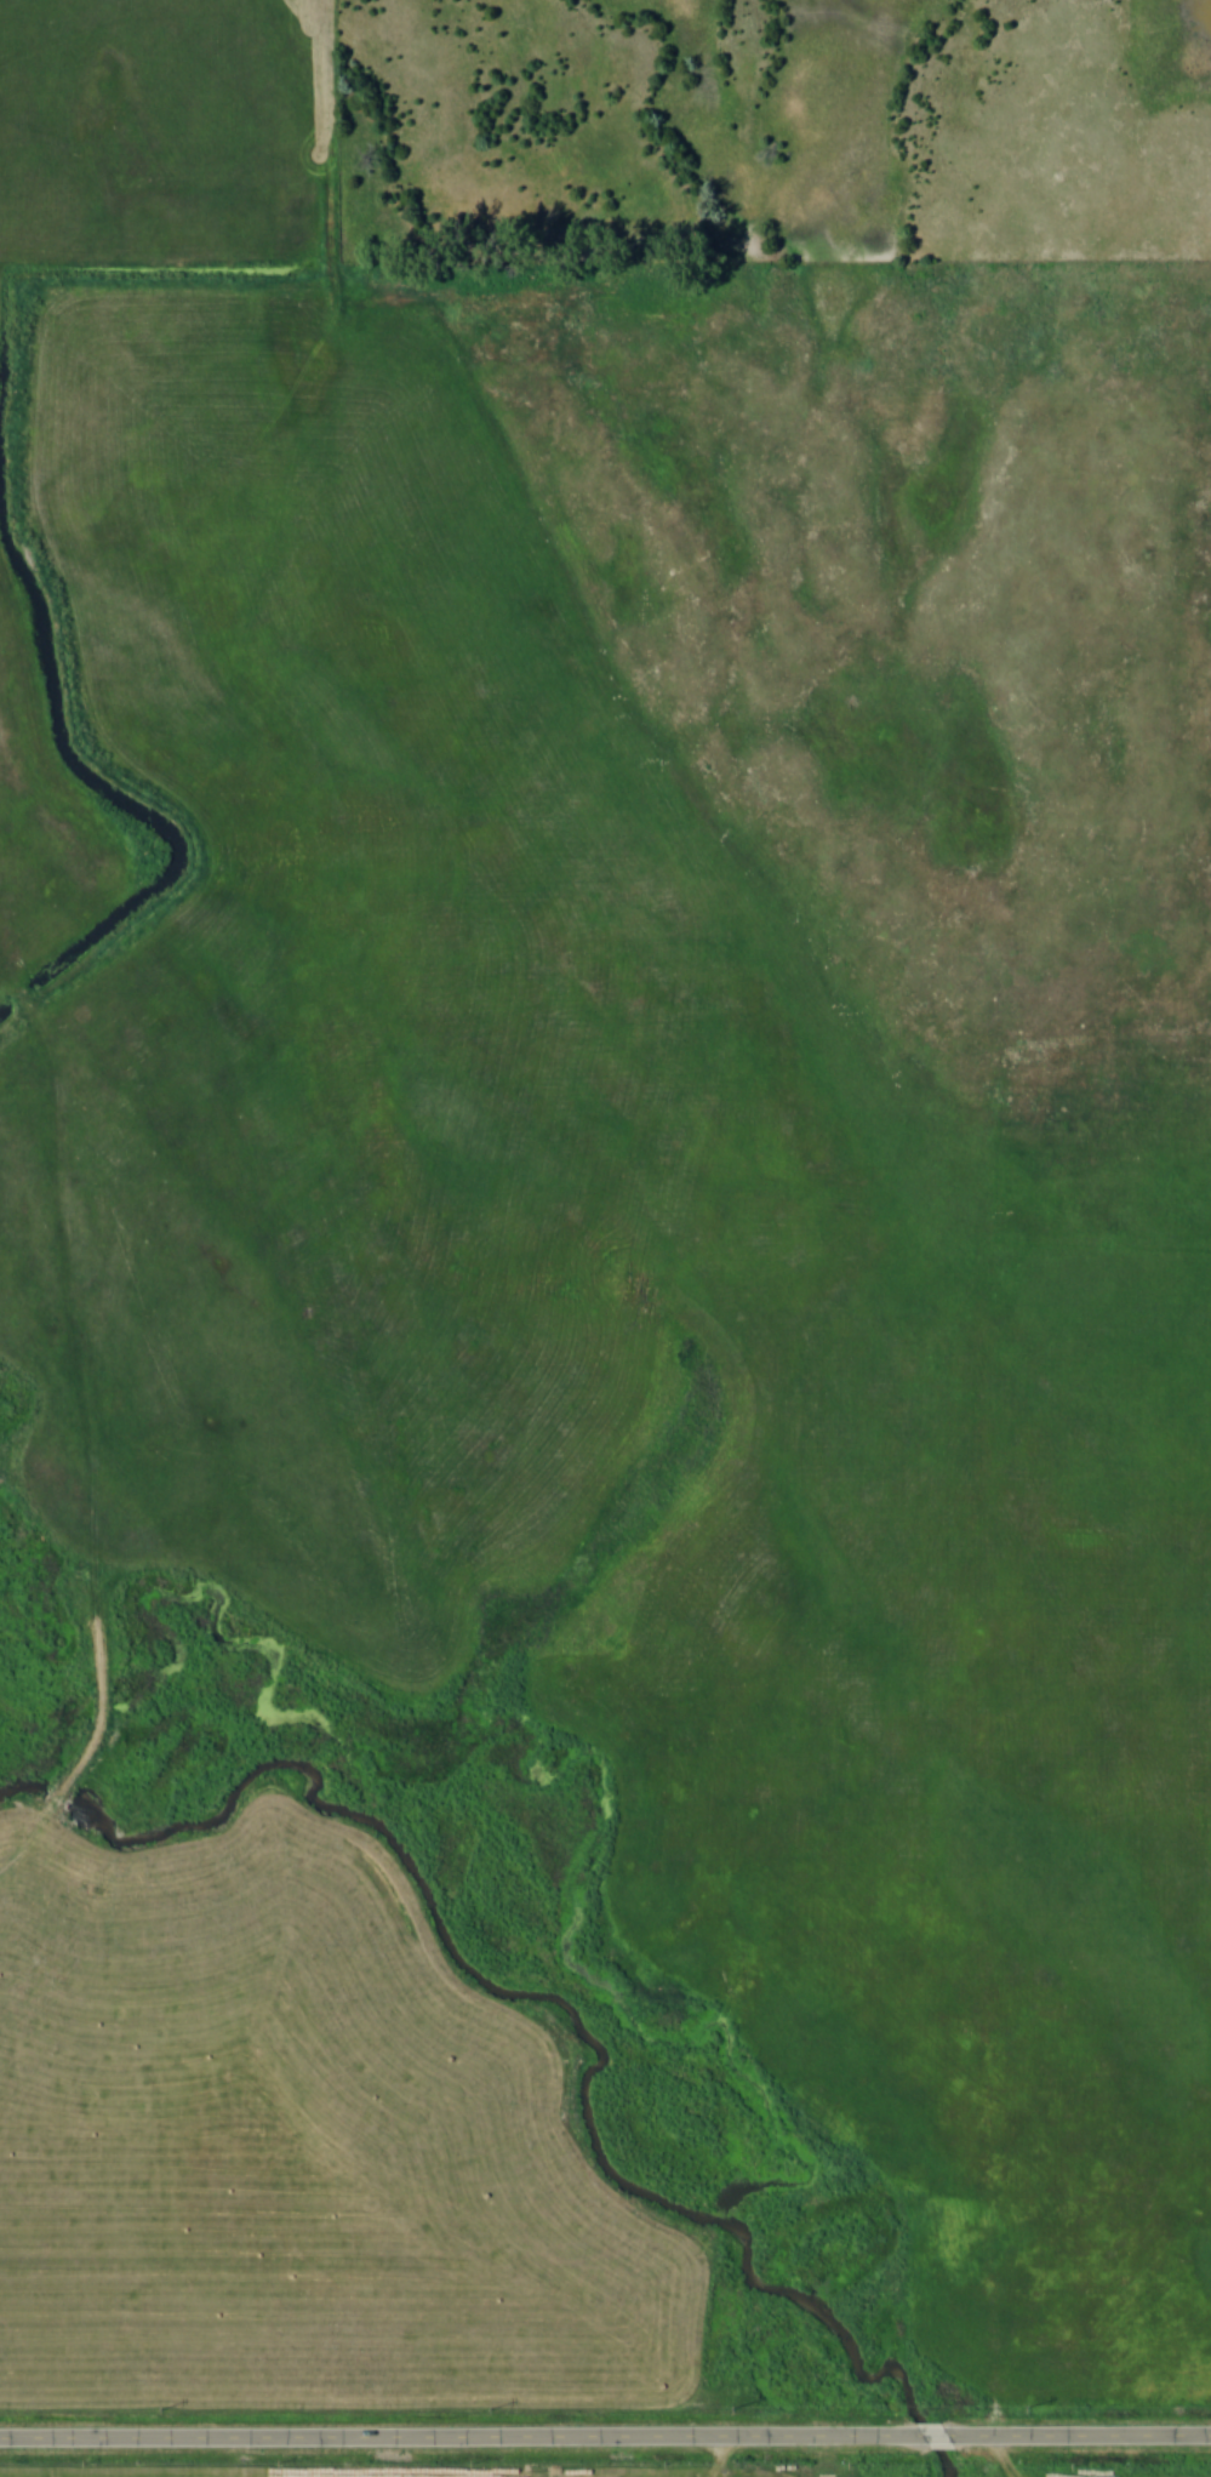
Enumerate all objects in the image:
road: (605, 2435)

